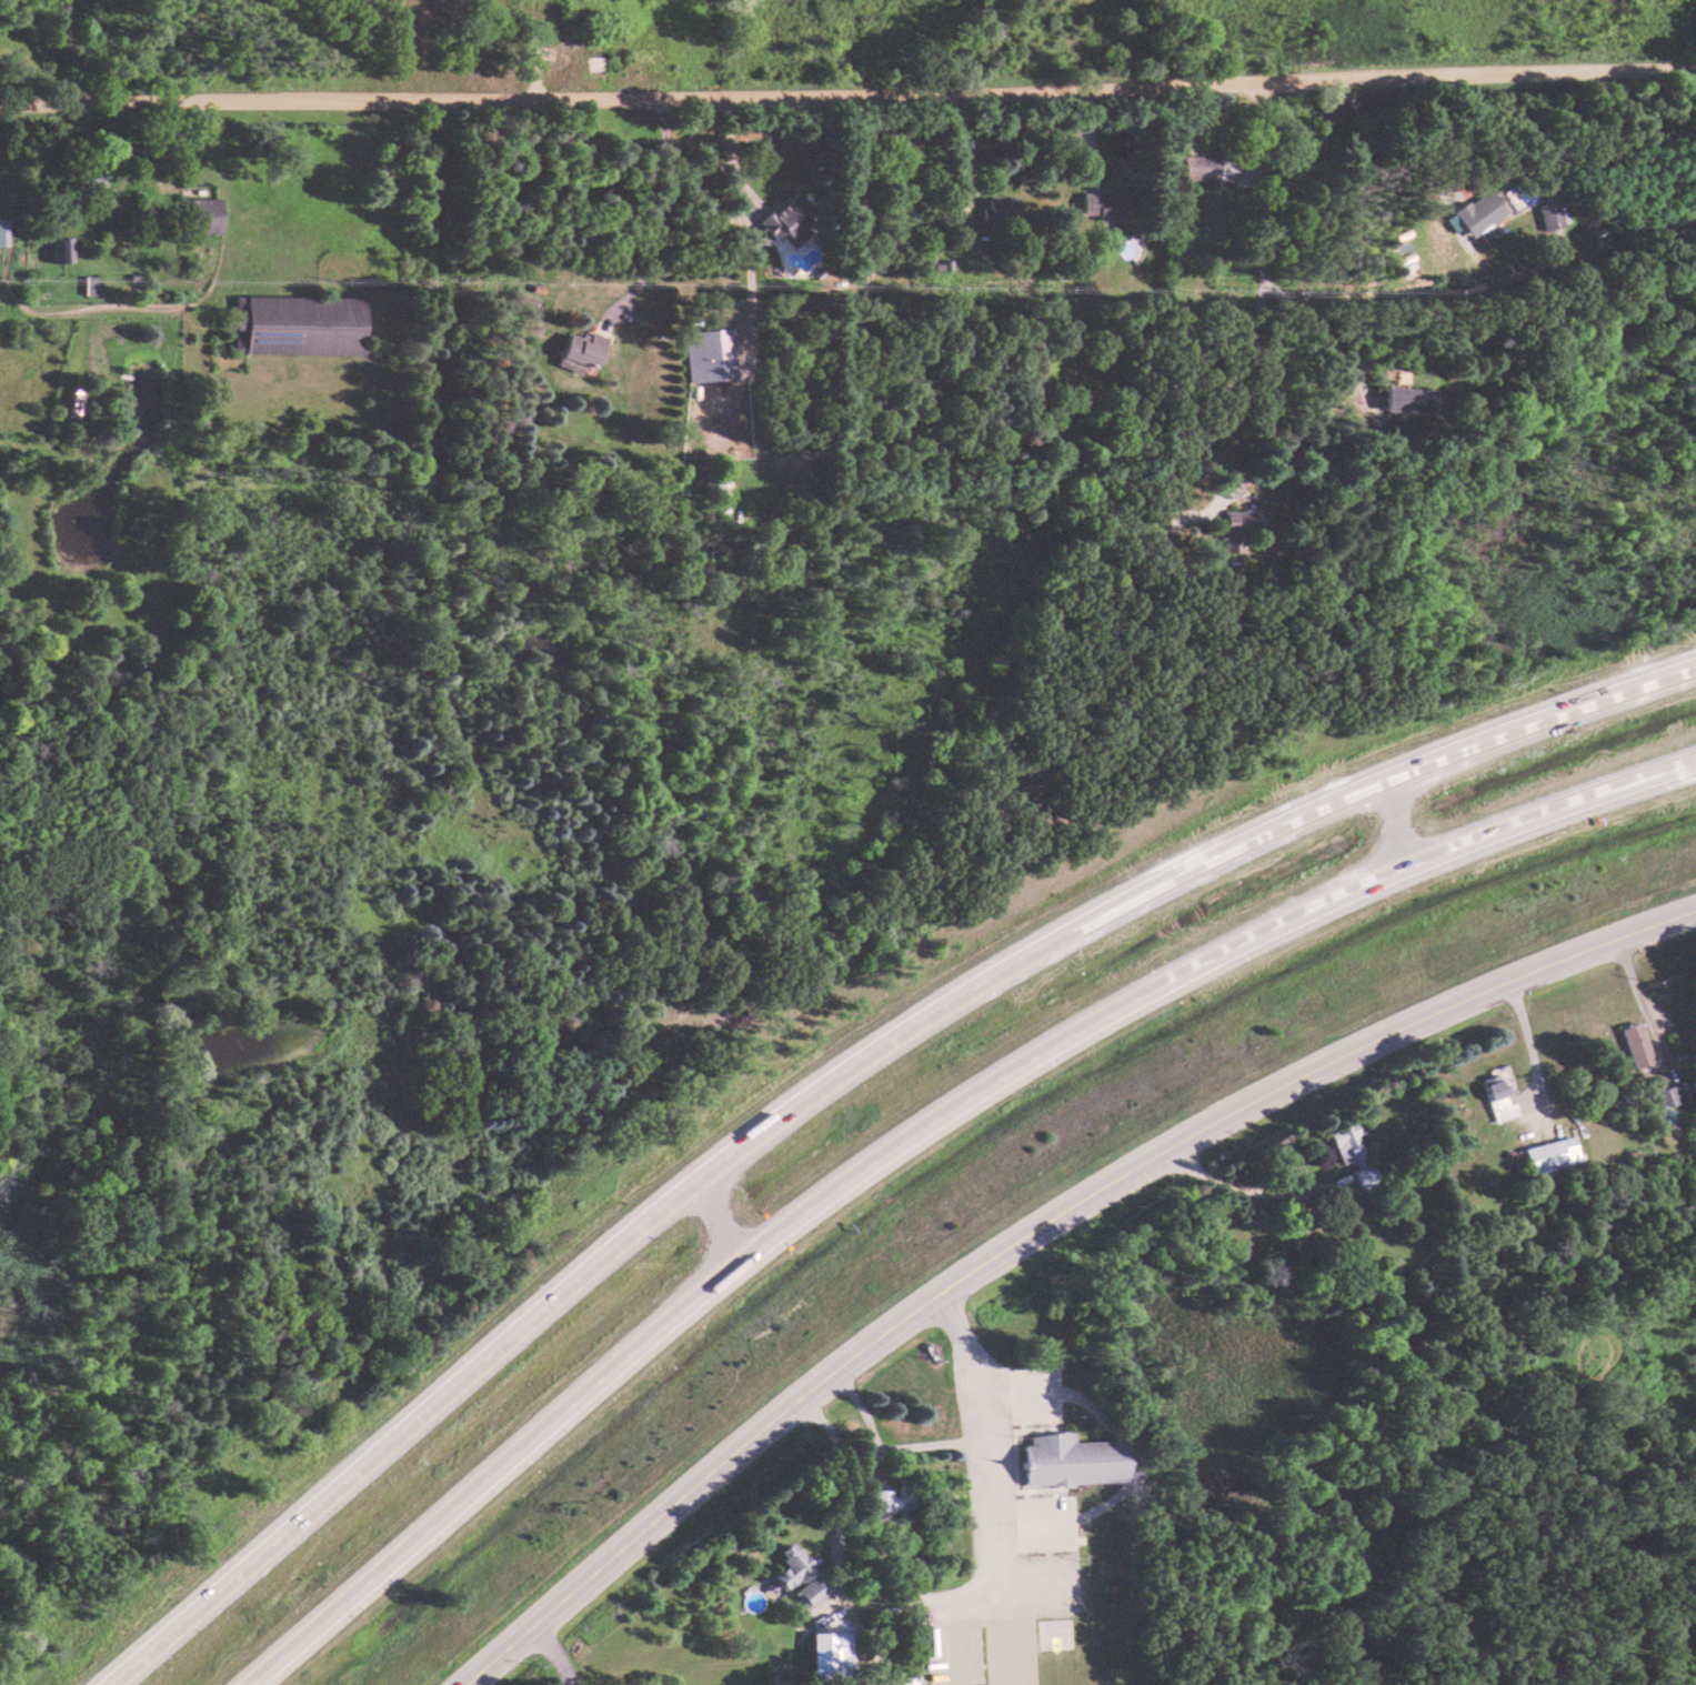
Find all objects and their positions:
road: (847, 89)
road: (729, 162)
building: (1197, 168)
building: (86, 178)
road: (1272, 184)
building: (1105, 207)
building: (1000, 208)
building: (201, 214)
building: (1551, 214)
building: (785, 215)
building: (1477, 215)
building: (1, 232)
building: (58, 249)
road: (1394, 291)
road: (1321, 334)
building: (579, 351)
building: (707, 354)
road: (1243, 382)
building: (1407, 400)
building: (72, 402)
building: (713, 485)
building: (1236, 529)
road: (1426, 759)
road: (1393, 820)
road: (1429, 855)
road: (1640, 1002)
road: (1426, 1012)
road: (1526, 1041)
building: (1634, 1045)
building: (1668, 1094)
building: (1349, 1152)
building: (1548, 1155)
road: (1245, 1188)
road: (716, 1218)
road: (611, 1250)
road: (684, 1303)
road: (799, 1394)
road: (882, 1447)
building: (1070, 1461)
building: (789, 1565)
building: (1105, 1566)
building: (809, 1592)
road: (961, 1596)
road: (552, 1653)
building: (822, 1657)

